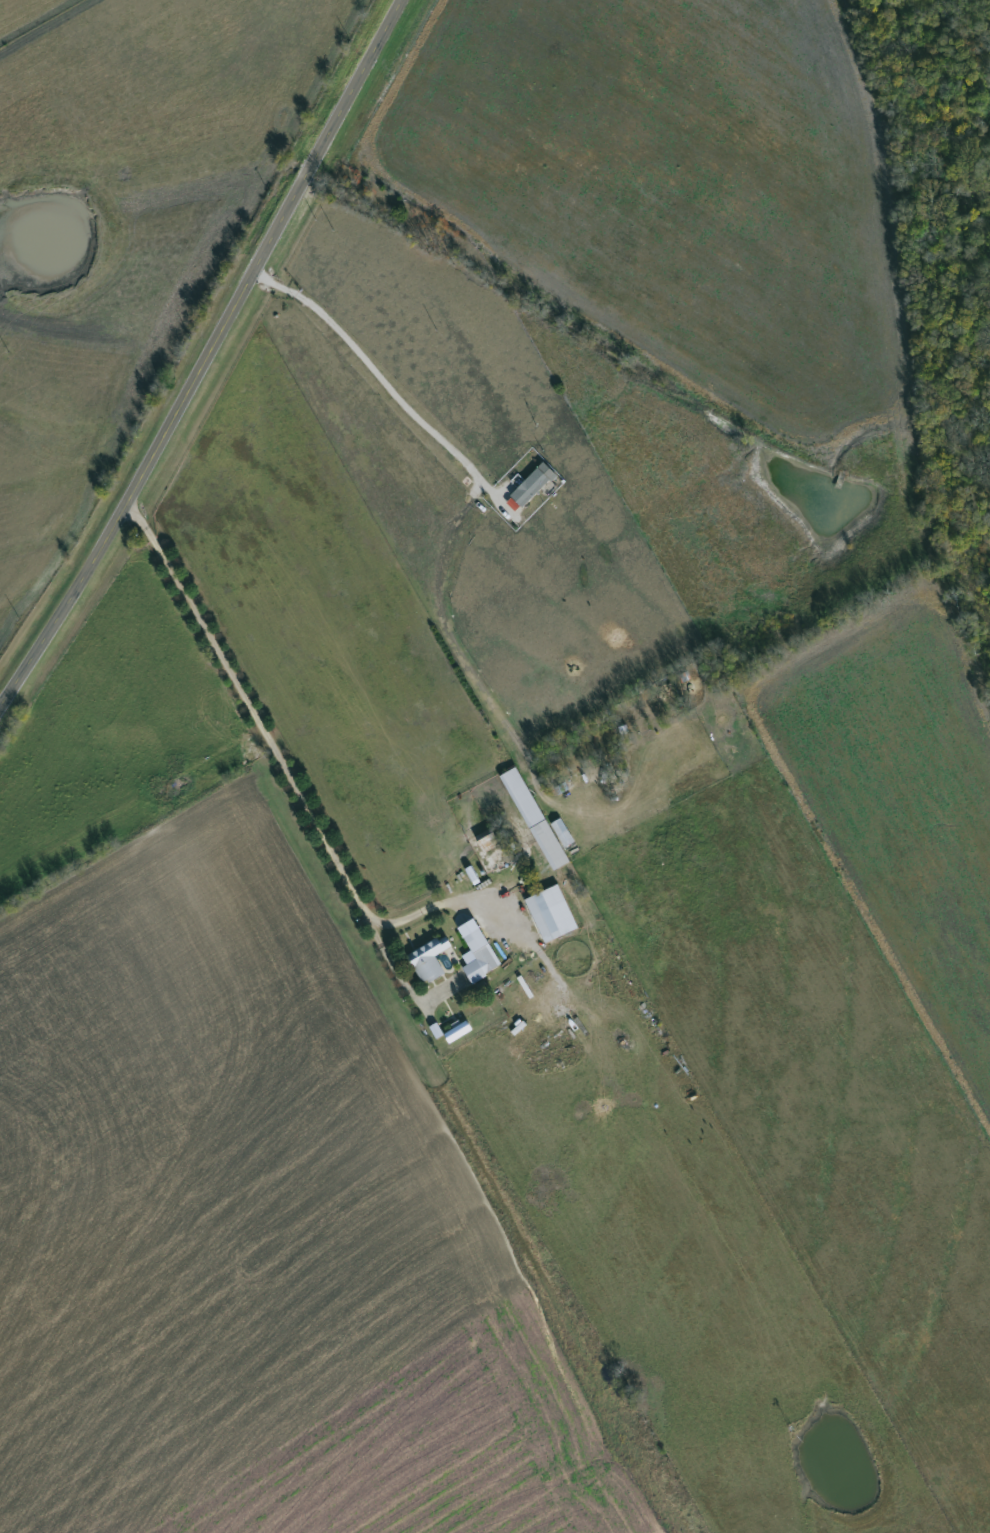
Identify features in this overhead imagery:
road: (203, 349)
road: (380, 367)
building: (525, 485)
road: (284, 771)
building: (483, 839)
building: (548, 839)
road: (425, 907)
building: (545, 911)
building: (423, 956)
building: (480, 956)

